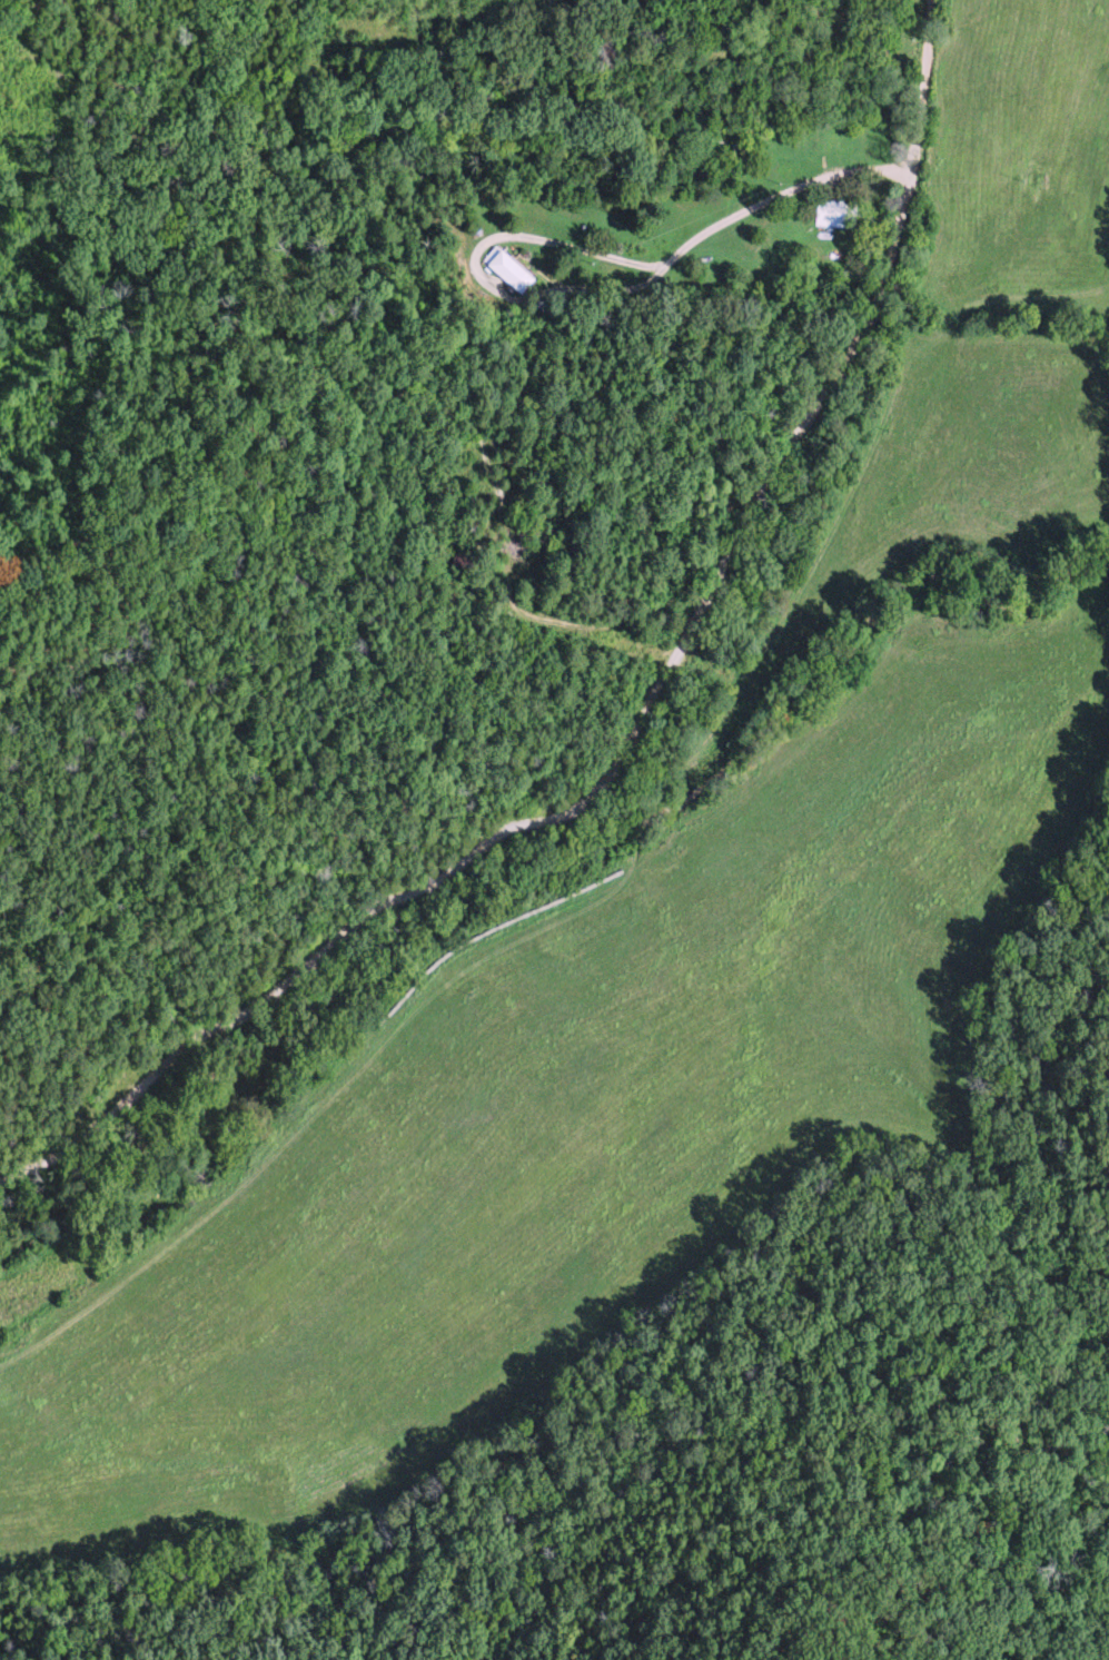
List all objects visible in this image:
building: (839, 213)
building: (511, 269)
road: (640, 725)

